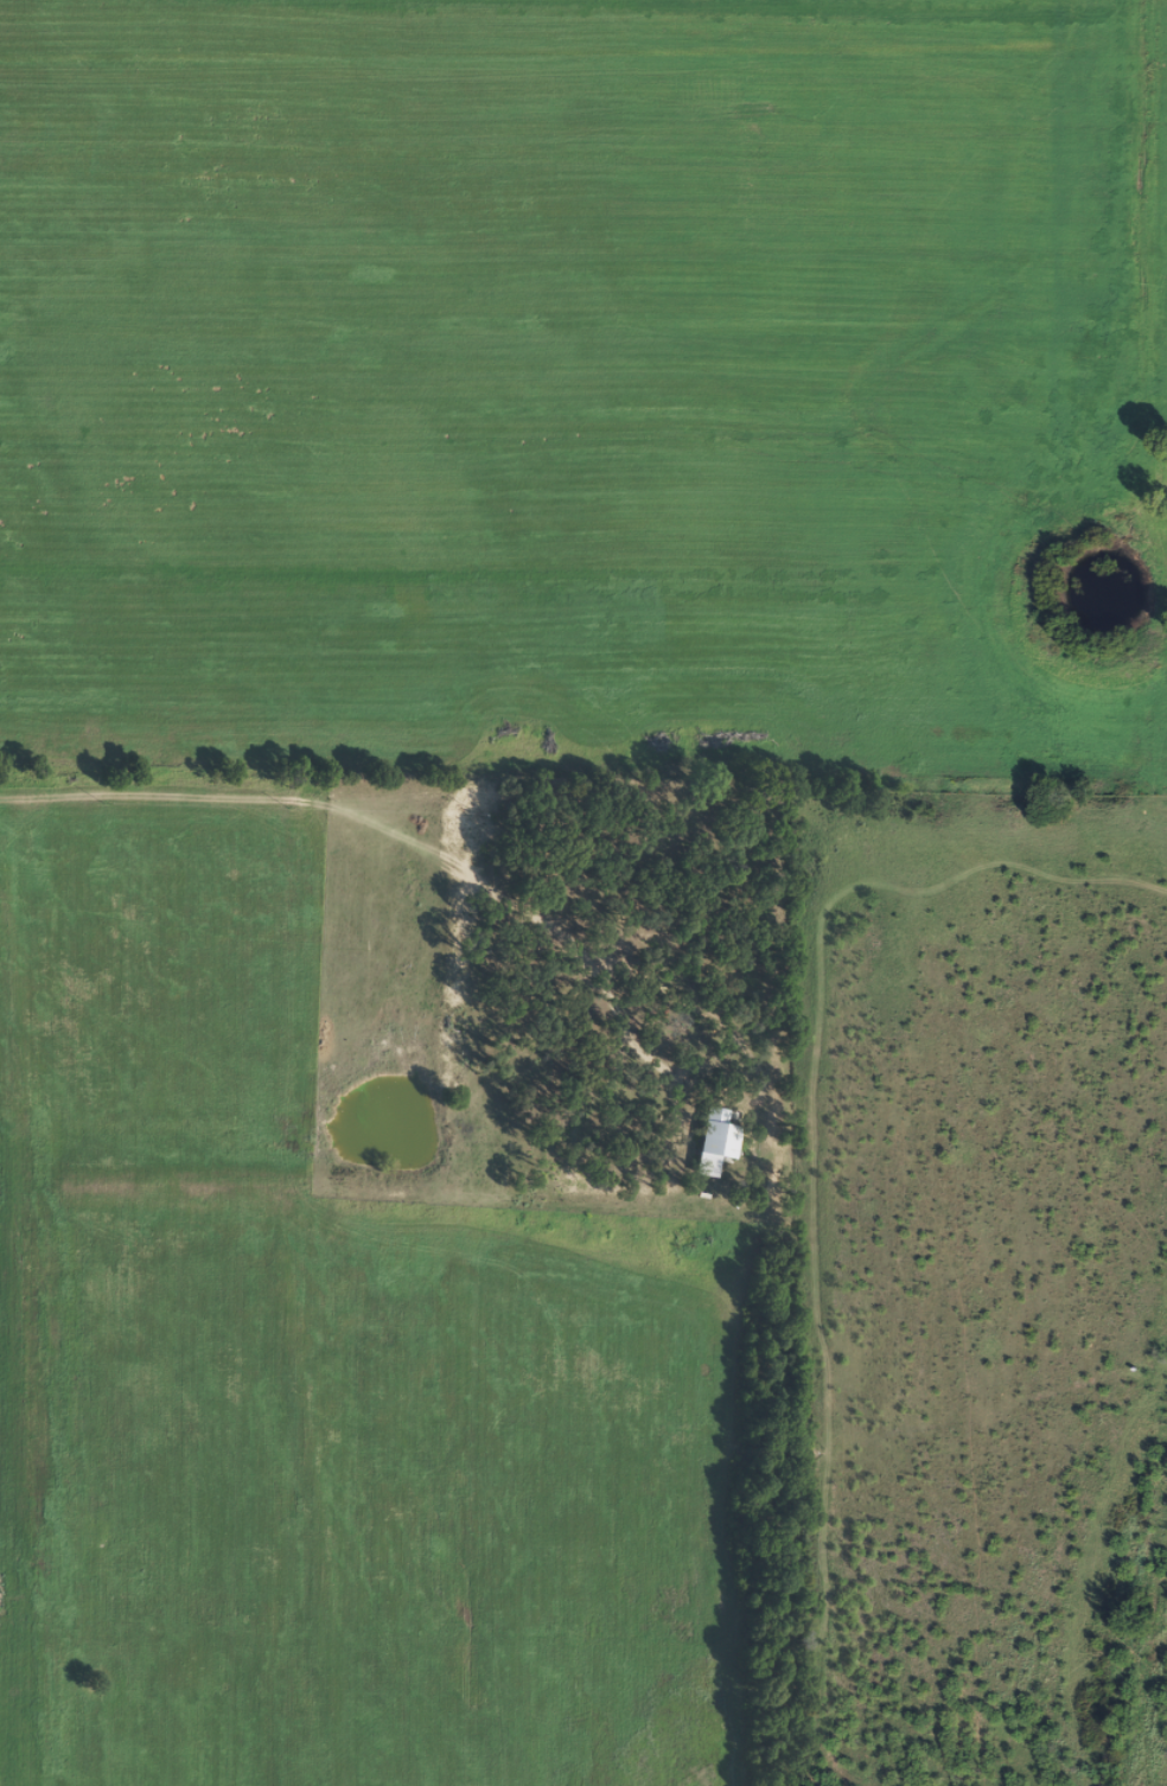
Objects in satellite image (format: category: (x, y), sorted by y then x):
building: (718, 1150)

